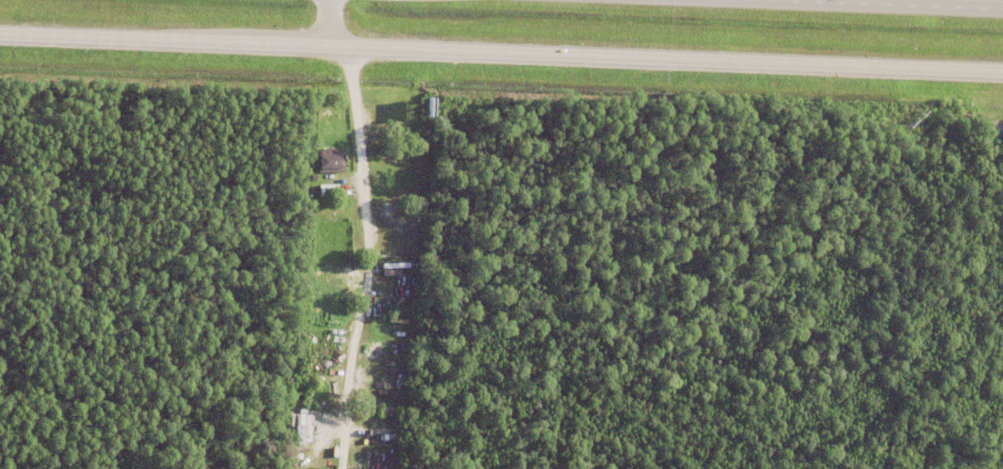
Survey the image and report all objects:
road: (917, 3)
road: (329, 24)
road: (501, 54)
building: (330, 159)
building: (328, 189)
building: (316, 230)
building: (331, 231)
road: (374, 259)
building: (385, 410)

